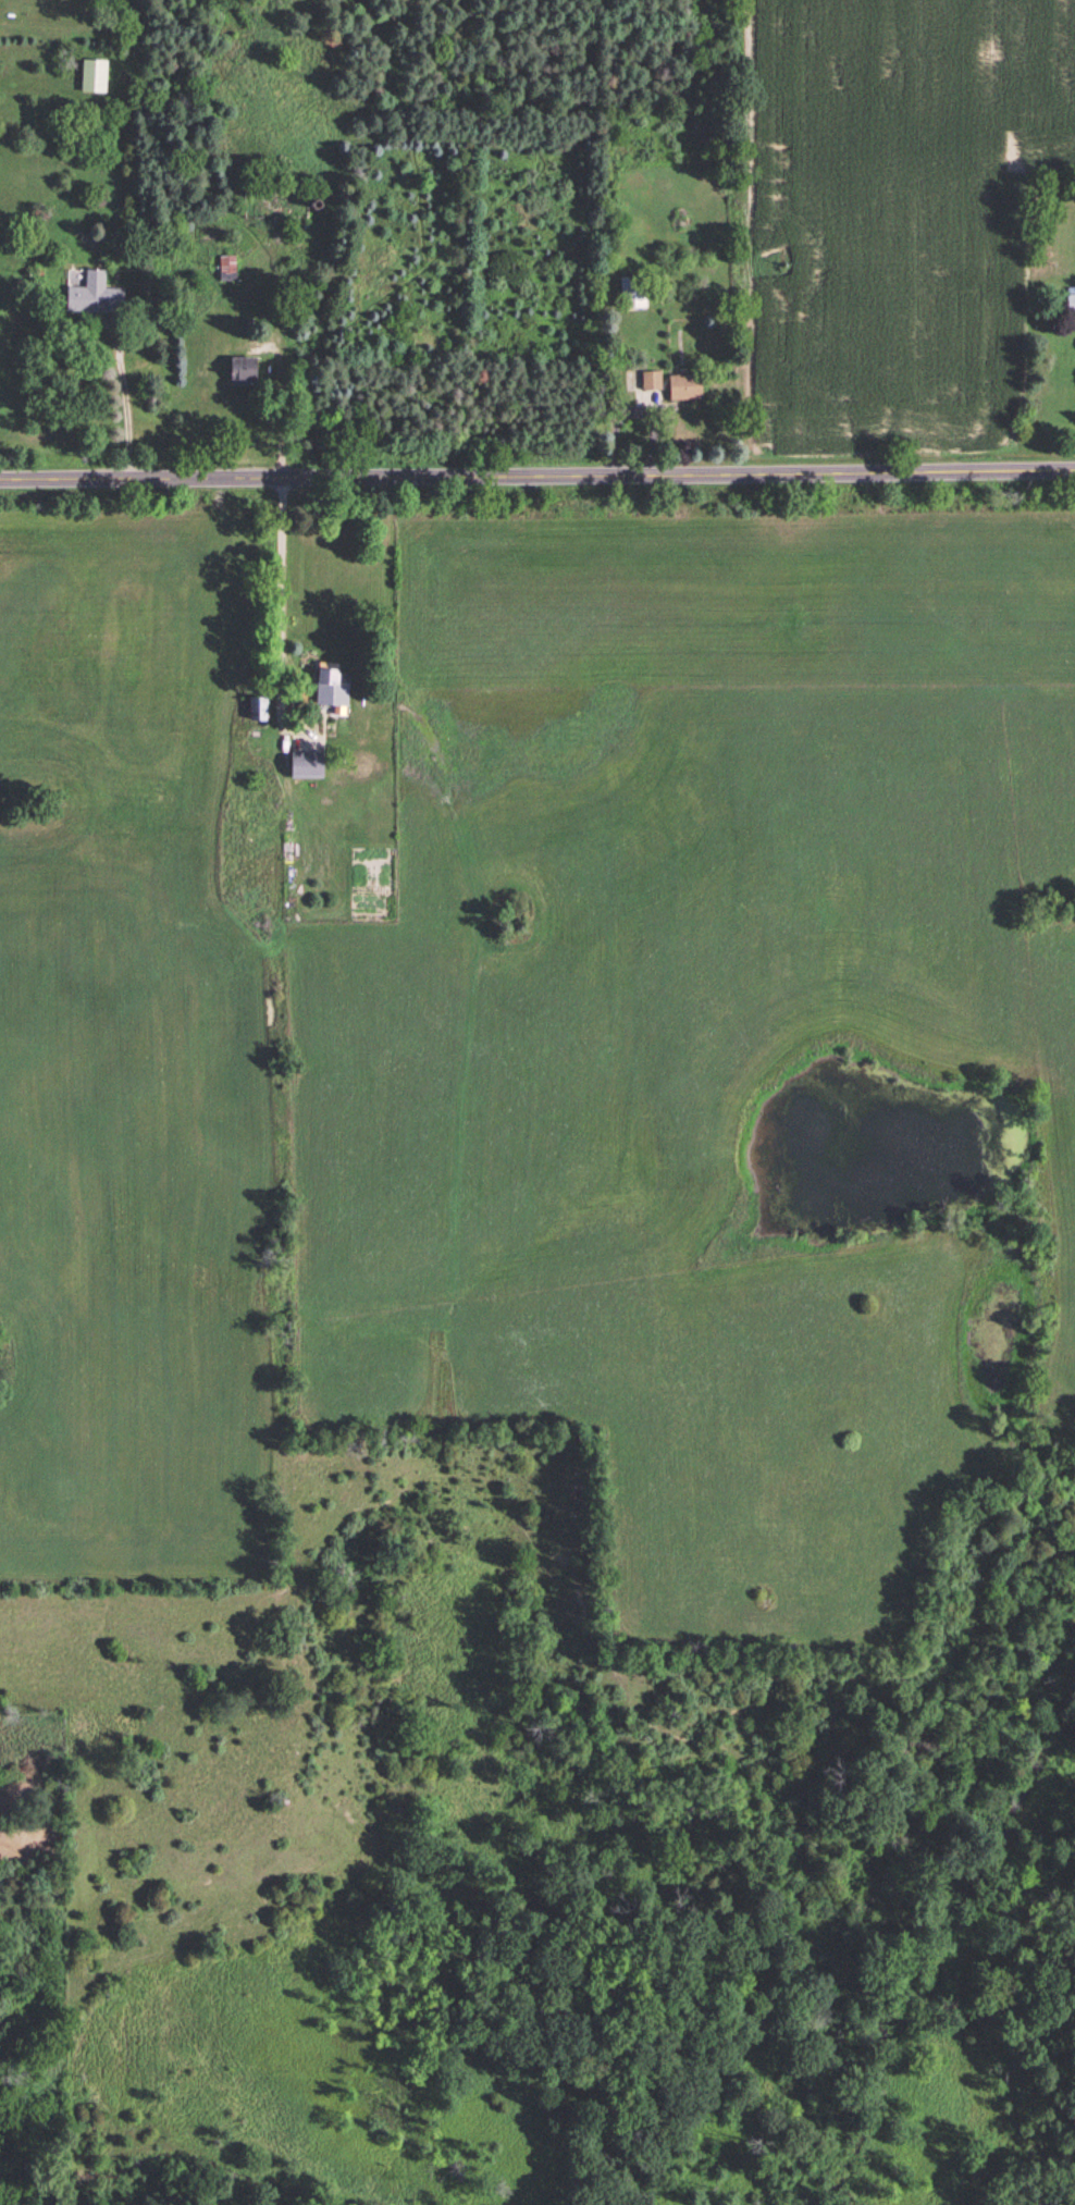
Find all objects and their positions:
building: (95, 77)
building: (228, 268)
building: (635, 294)
building: (96, 296)
building: (1071, 303)
building: (246, 372)
building: (653, 381)
building: (687, 389)
road: (144, 415)
road: (537, 479)
road: (297, 596)
building: (335, 683)
building: (259, 710)
building: (308, 766)

